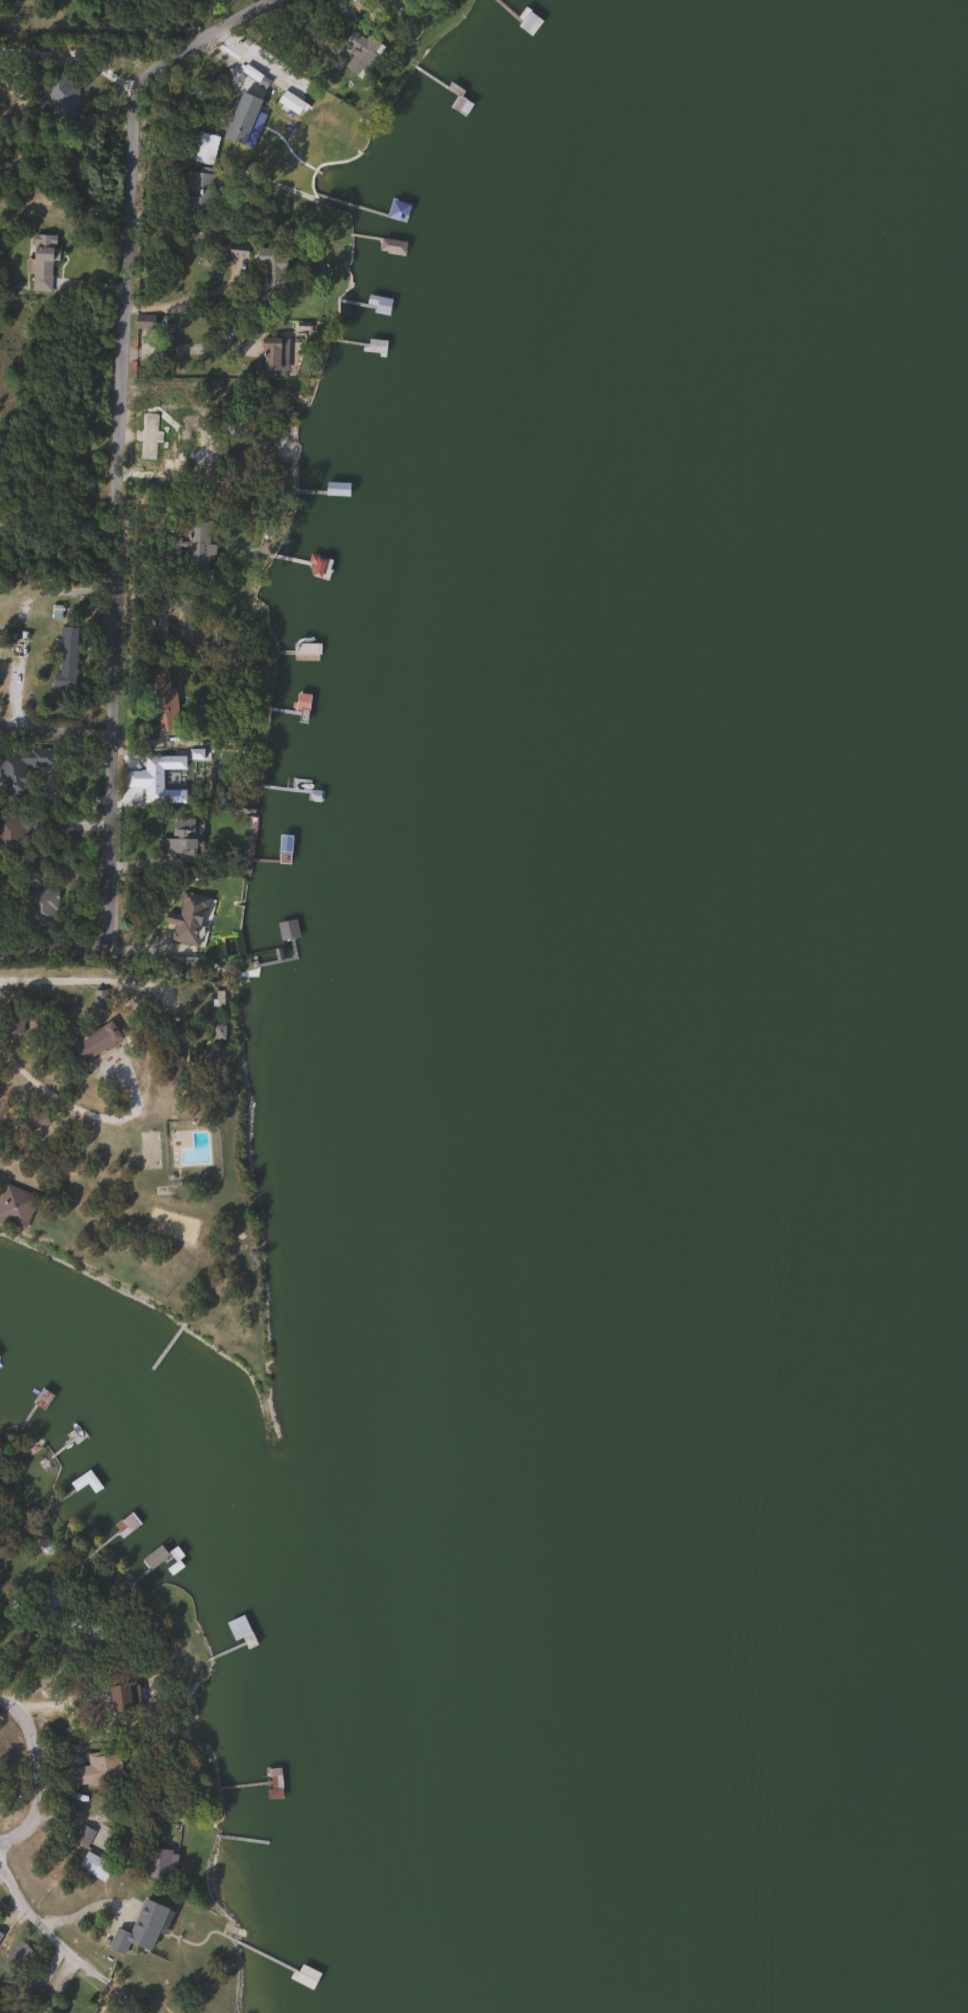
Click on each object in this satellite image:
building: (528, 23)
building: (357, 53)
road: (98, 65)
building: (317, 99)
building: (289, 103)
building: (240, 114)
building: (205, 141)
building: (199, 193)
building: (397, 211)
building: (391, 247)
building: (42, 262)
building: (270, 262)
road: (192, 299)
building: (143, 321)
building: (375, 346)
road: (178, 349)
building: (272, 357)
road: (124, 436)
building: (148, 437)
building: (336, 490)
building: (197, 545)
building: (320, 568)
building: (66, 656)
building: (162, 700)
building: (20, 769)
building: (10, 832)
building: (178, 837)
building: (41, 904)
building: (187, 920)
building: (223, 945)
road: (96, 946)
road: (80, 979)
building: (11, 1019)
building: (94, 1042)
building: (171, 1069)
road: (79, 1111)
building: (32, 1119)
building: (15, 1205)
building: (85, 1481)
building: (127, 1523)
building: (48, 1603)
building: (240, 1630)
building: (141, 1699)
building: (96, 1770)
road: (39, 1774)
building: (83, 1835)
building: (157, 1862)
building: (93, 1866)
road: (28, 1904)
building: (138, 1928)
building: (0, 1936)
building: (304, 1976)

